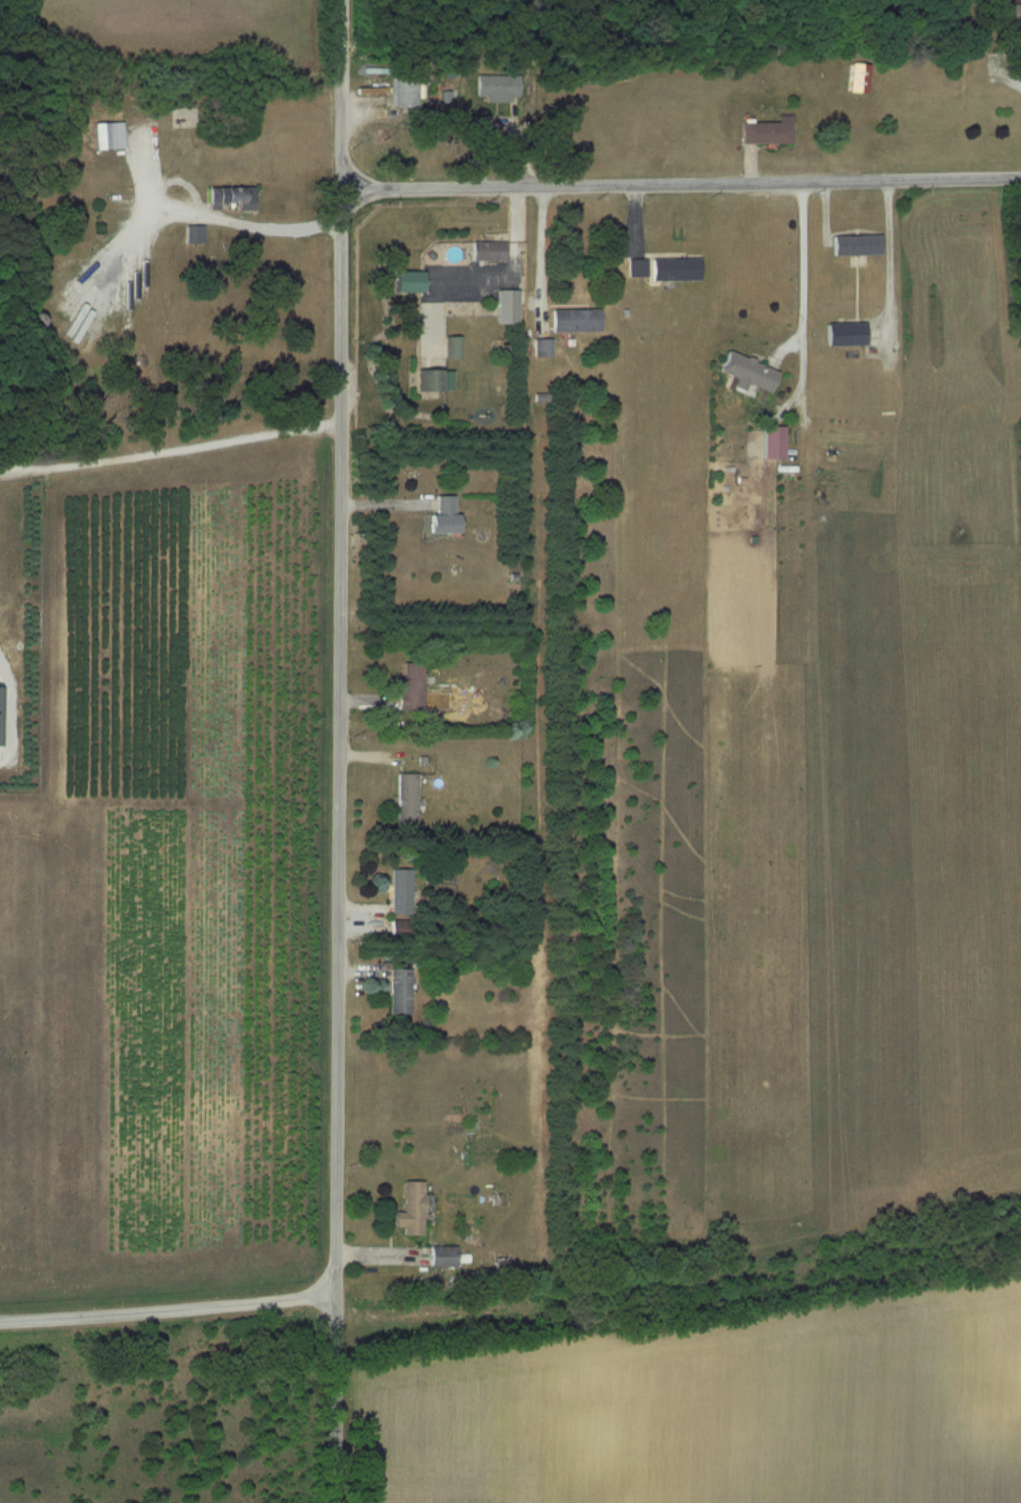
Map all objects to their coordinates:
building: (1009, 13)
road: (1009, 73)
building: (860, 77)
building: (406, 91)
building: (768, 132)
building: (114, 136)
road: (682, 183)
building: (235, 197)
building: (859, 244)
building: (490, 250)
building: (638, 267)
building: (677, 268)
building: (412, 281)
building: (510, 306)
building: (577, 320)
building: (848, 333)
building: (437, 336)
building: (750, 372)
building: (775, 443)
building: (446, 517)
building: (413, 686)
building: (1, 715)
road: (339, 751)
building: (409, 800)
building: (402, 892)
building: (402, 990)
building: (413, 1208)
road: (167, 1309)

